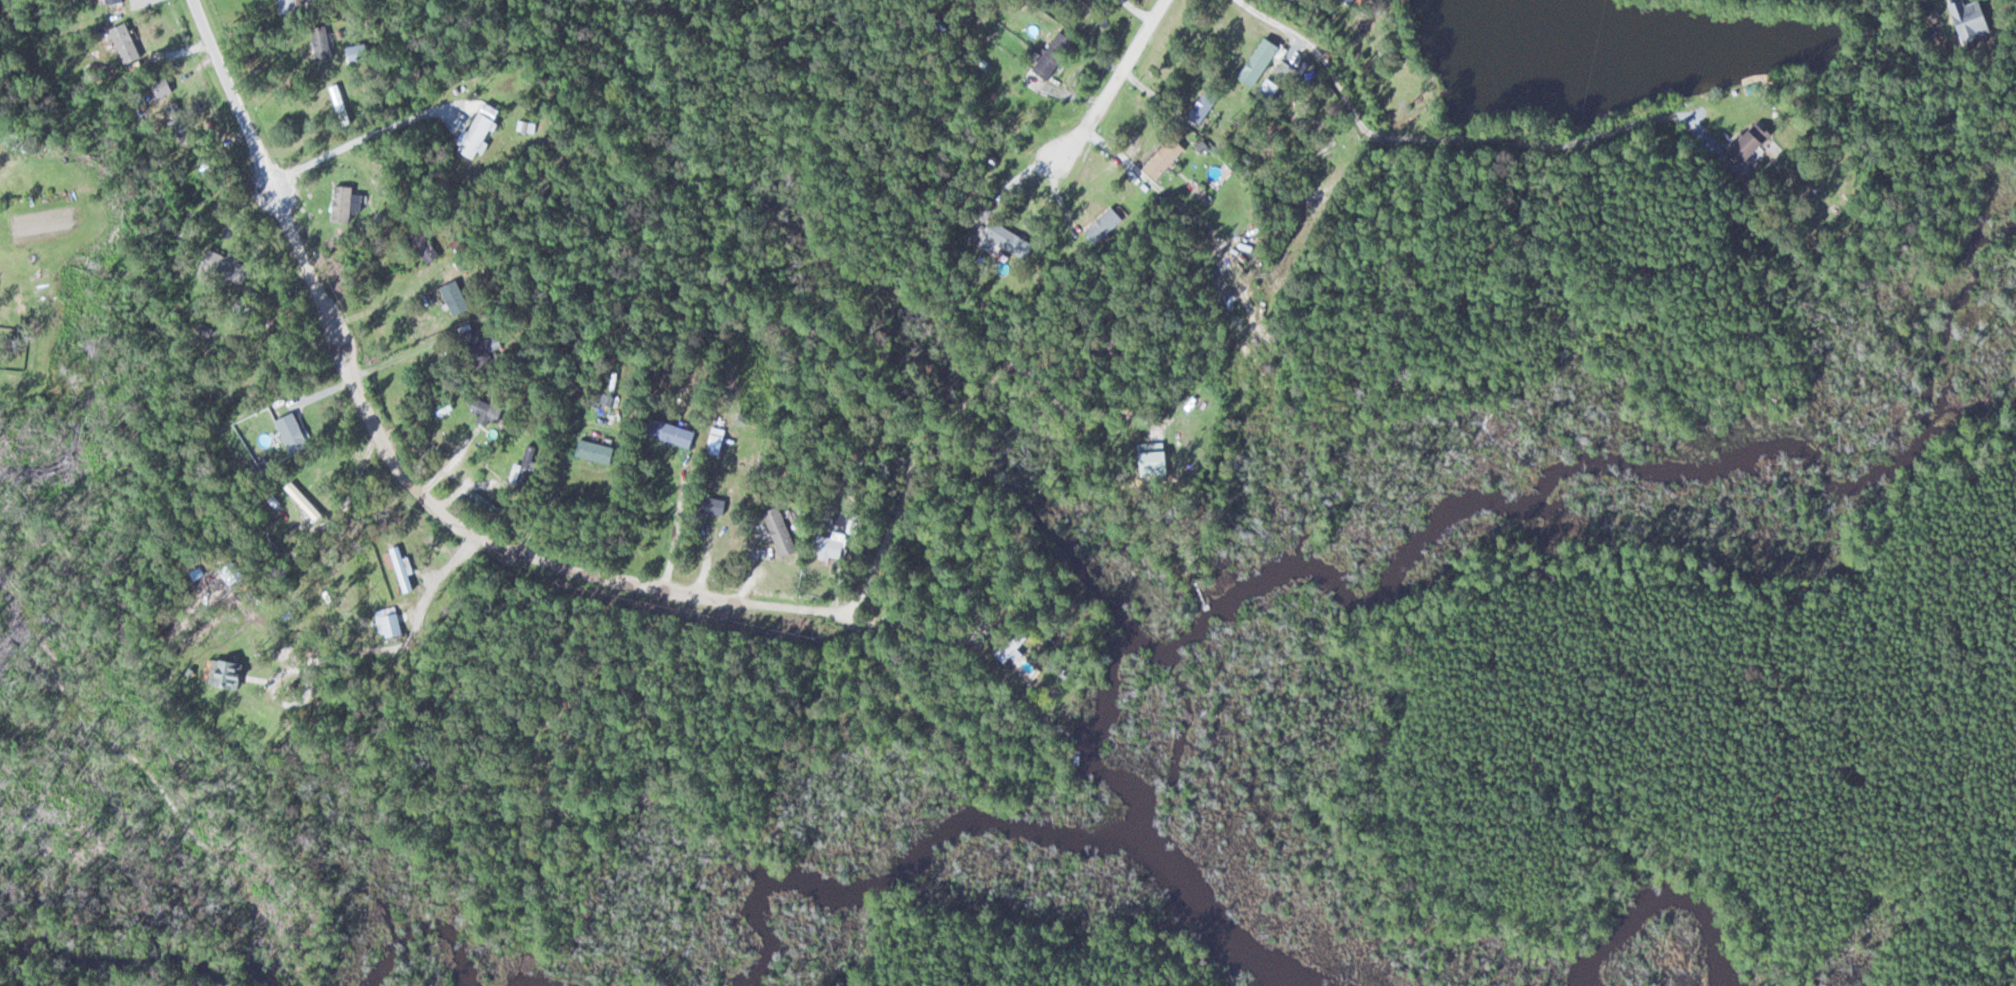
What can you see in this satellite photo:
building: (117, 1)
building: (1348, 1)
building: (1064, 2)
building: (294, 5)
building: (1963, 19)
building: (128, 37)
building: (328, 46)
road: (1130, 53)
building: (1048, 55)
building: (1254, 61)
building: (1265, 88)
building: (1199, 105)
building: (183, 118)
building: (484, 134)
road: (1440, 140)
building: (1742, 142)
building: (1159, 158)
building: (349, 203)
building: (1100, 224)
building: (1005, 240)
building: (427, 244)
building: (231, 264)
building: (460, 298)
building: (486, 344)
building: (489, 411)
building: (297, 433)
building: (677, 433)
road: (390, 452)
building: (601, 452)
building: (1147, 458)
building: (531, 465)
building: (488, 504)
building: (785, 531)
building: (825, 545)
building: (407, 572)
building: (393, 624)
building: (1007, 645)
building: (239, 678)

